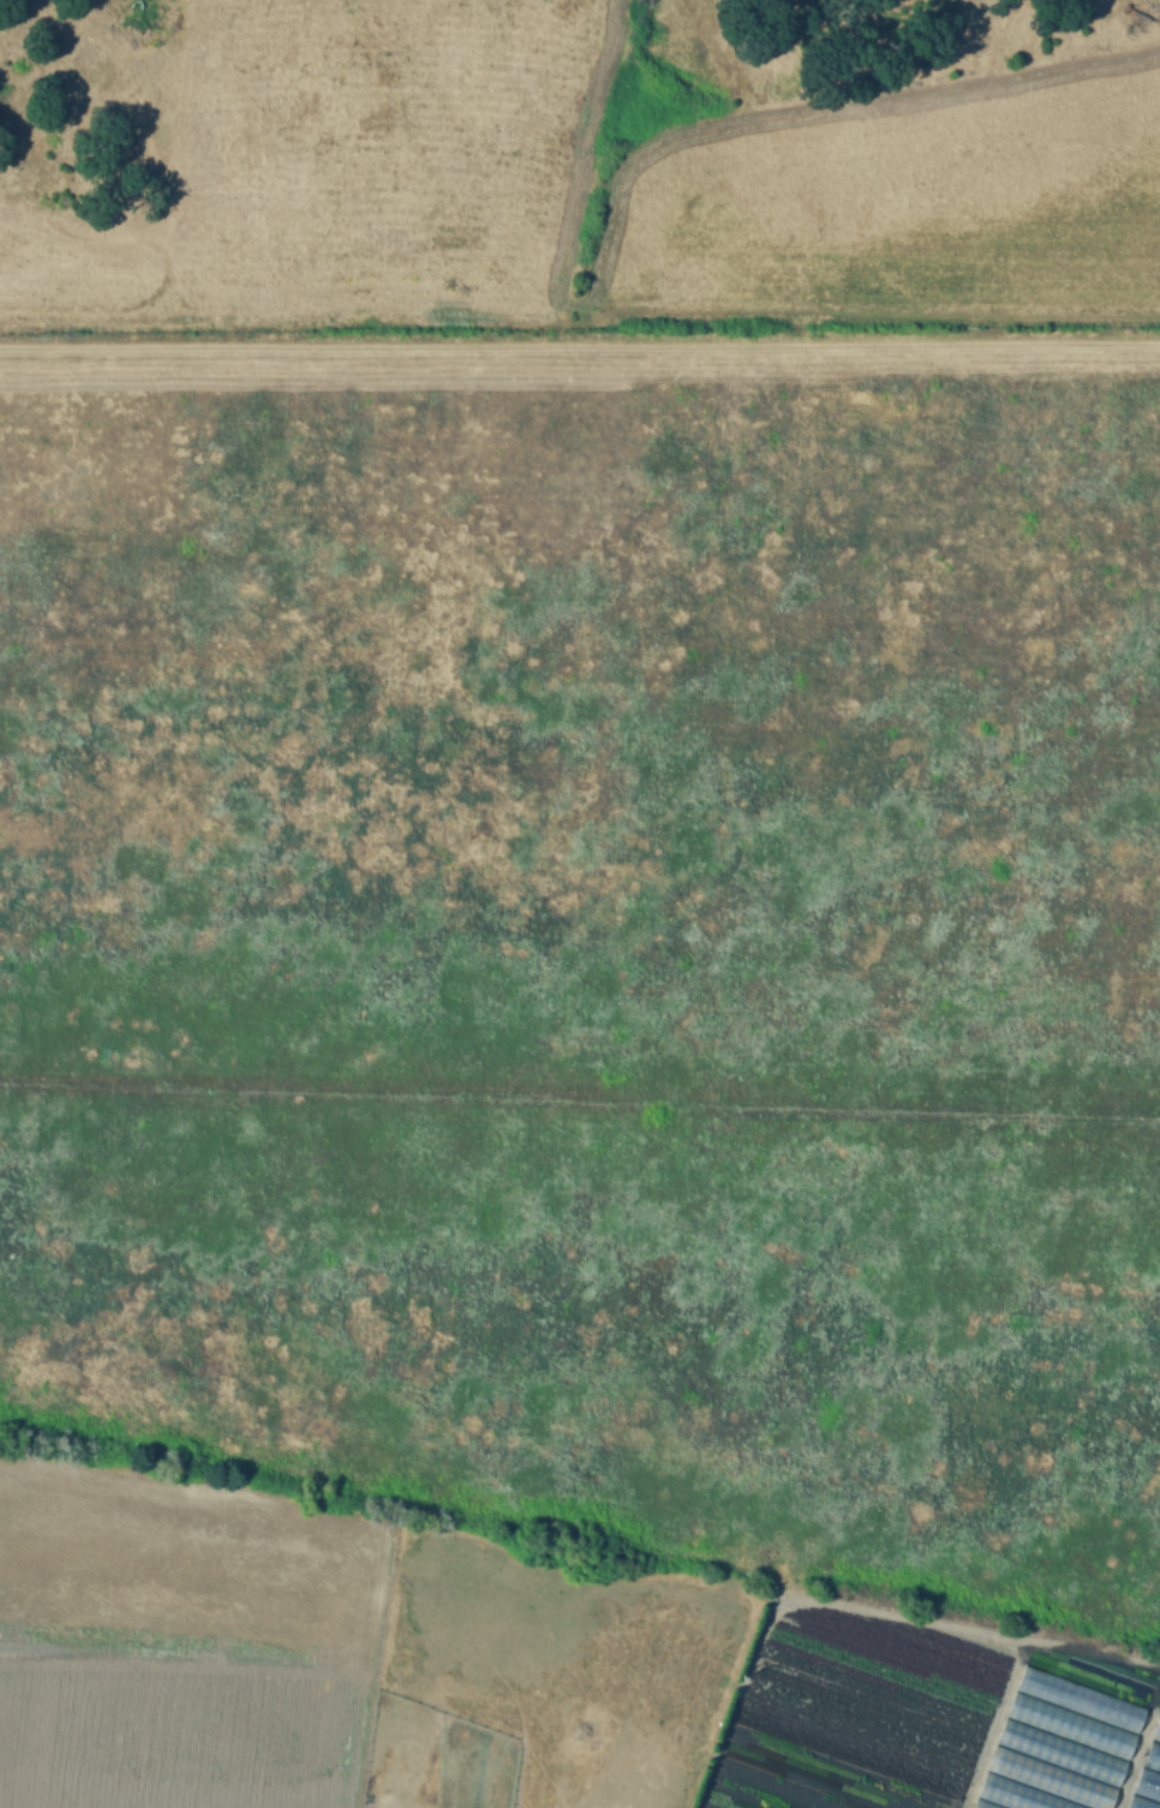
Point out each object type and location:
road: (580, 347)
crop: (628, 882)
road: (318, 1526)
road: (862, 1615)
building: (1080, 1700)
road: (989, 1726)
building: (1070, 1728)
building: (1156, 1731)
road: (1138, 1749)
building: (1060, 1754)
building: (1153, 1758)
building: (1050, 1779)
building: (1148, 1785)
building: (1015, 1795)
building: (1140, 1803)
building: (980, 1806)

